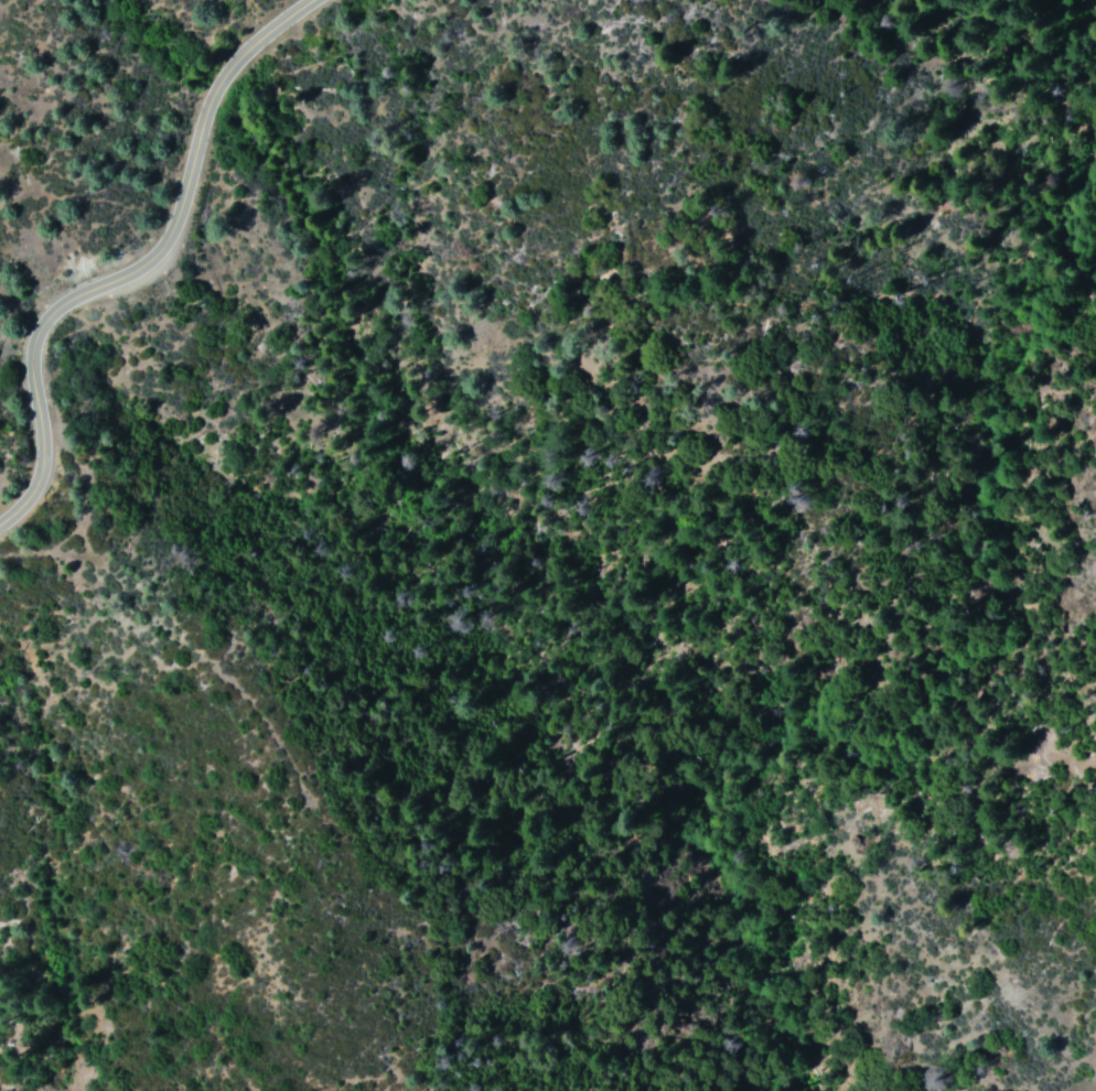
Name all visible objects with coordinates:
road: (138, 269)

